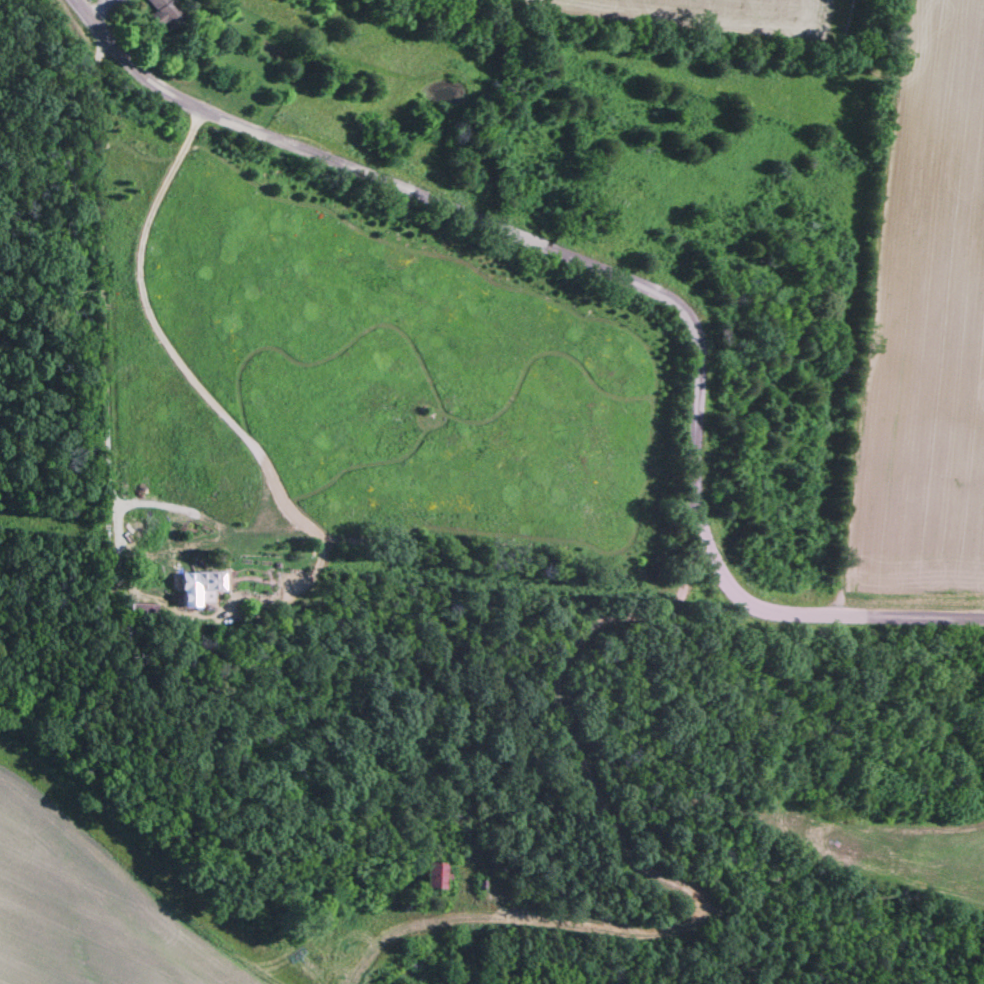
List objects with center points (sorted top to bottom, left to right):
building: (167, 10)
building: (841, 24)
road: (614, 285)
building: (199, 588)
road: (635, 868)
building: (429, 878)

